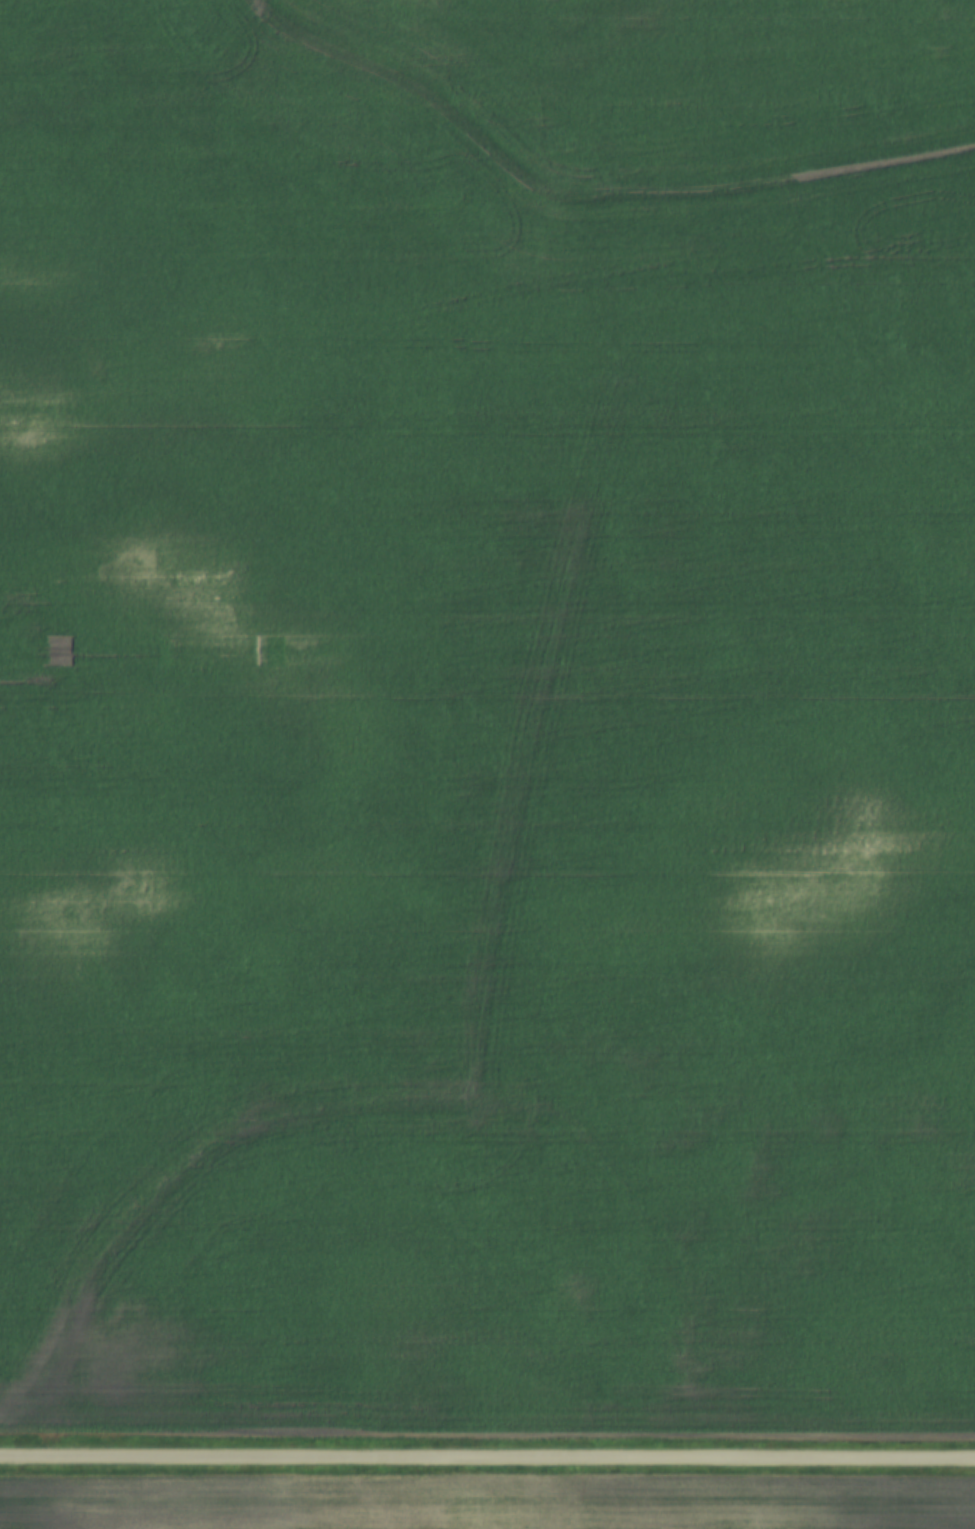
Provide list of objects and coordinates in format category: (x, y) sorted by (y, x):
road: (487, 1461)

